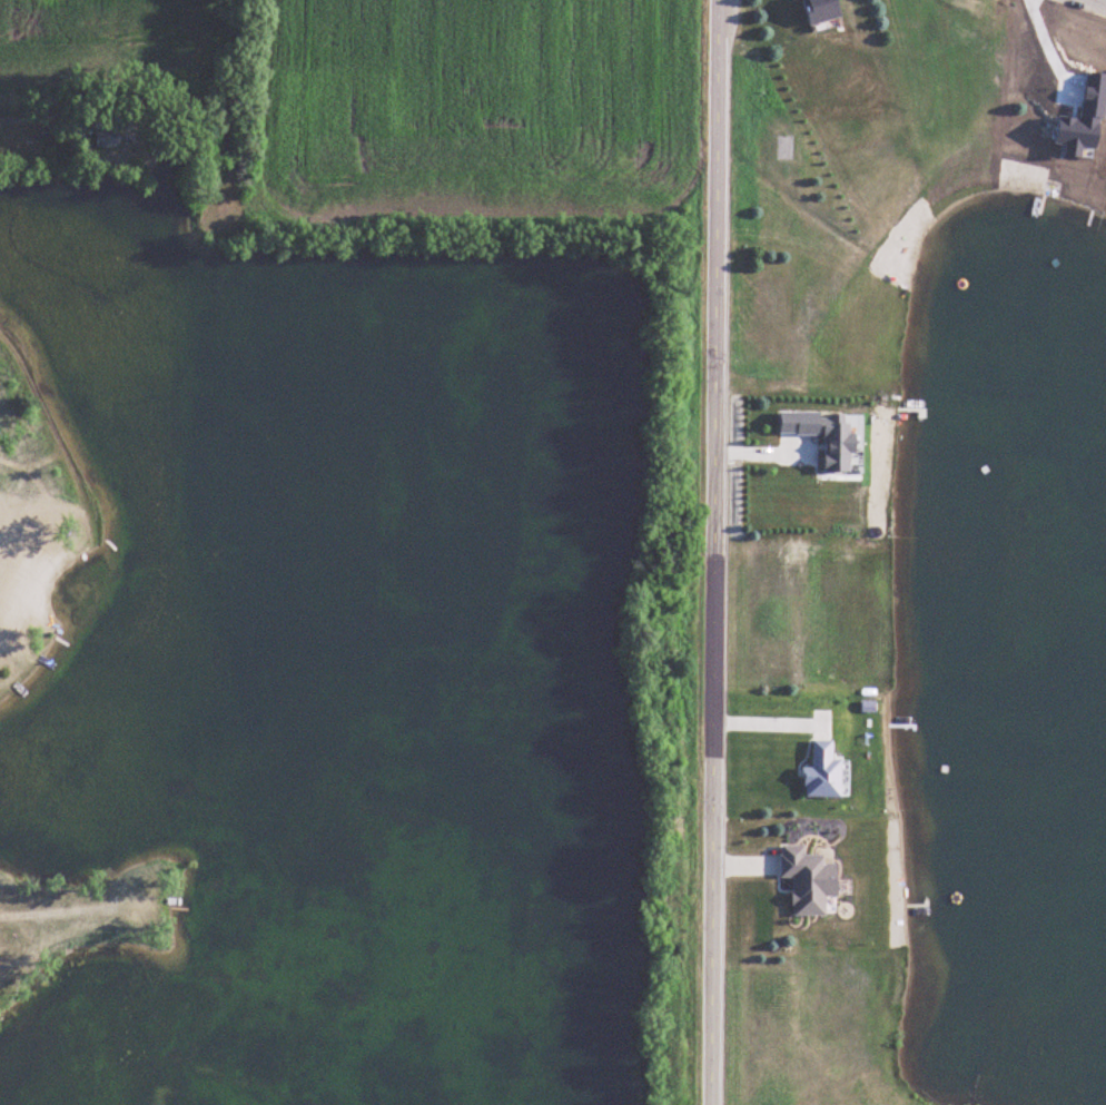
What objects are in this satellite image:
road: (1102, 1)
road: (24, 117)
road: (715, 552)

